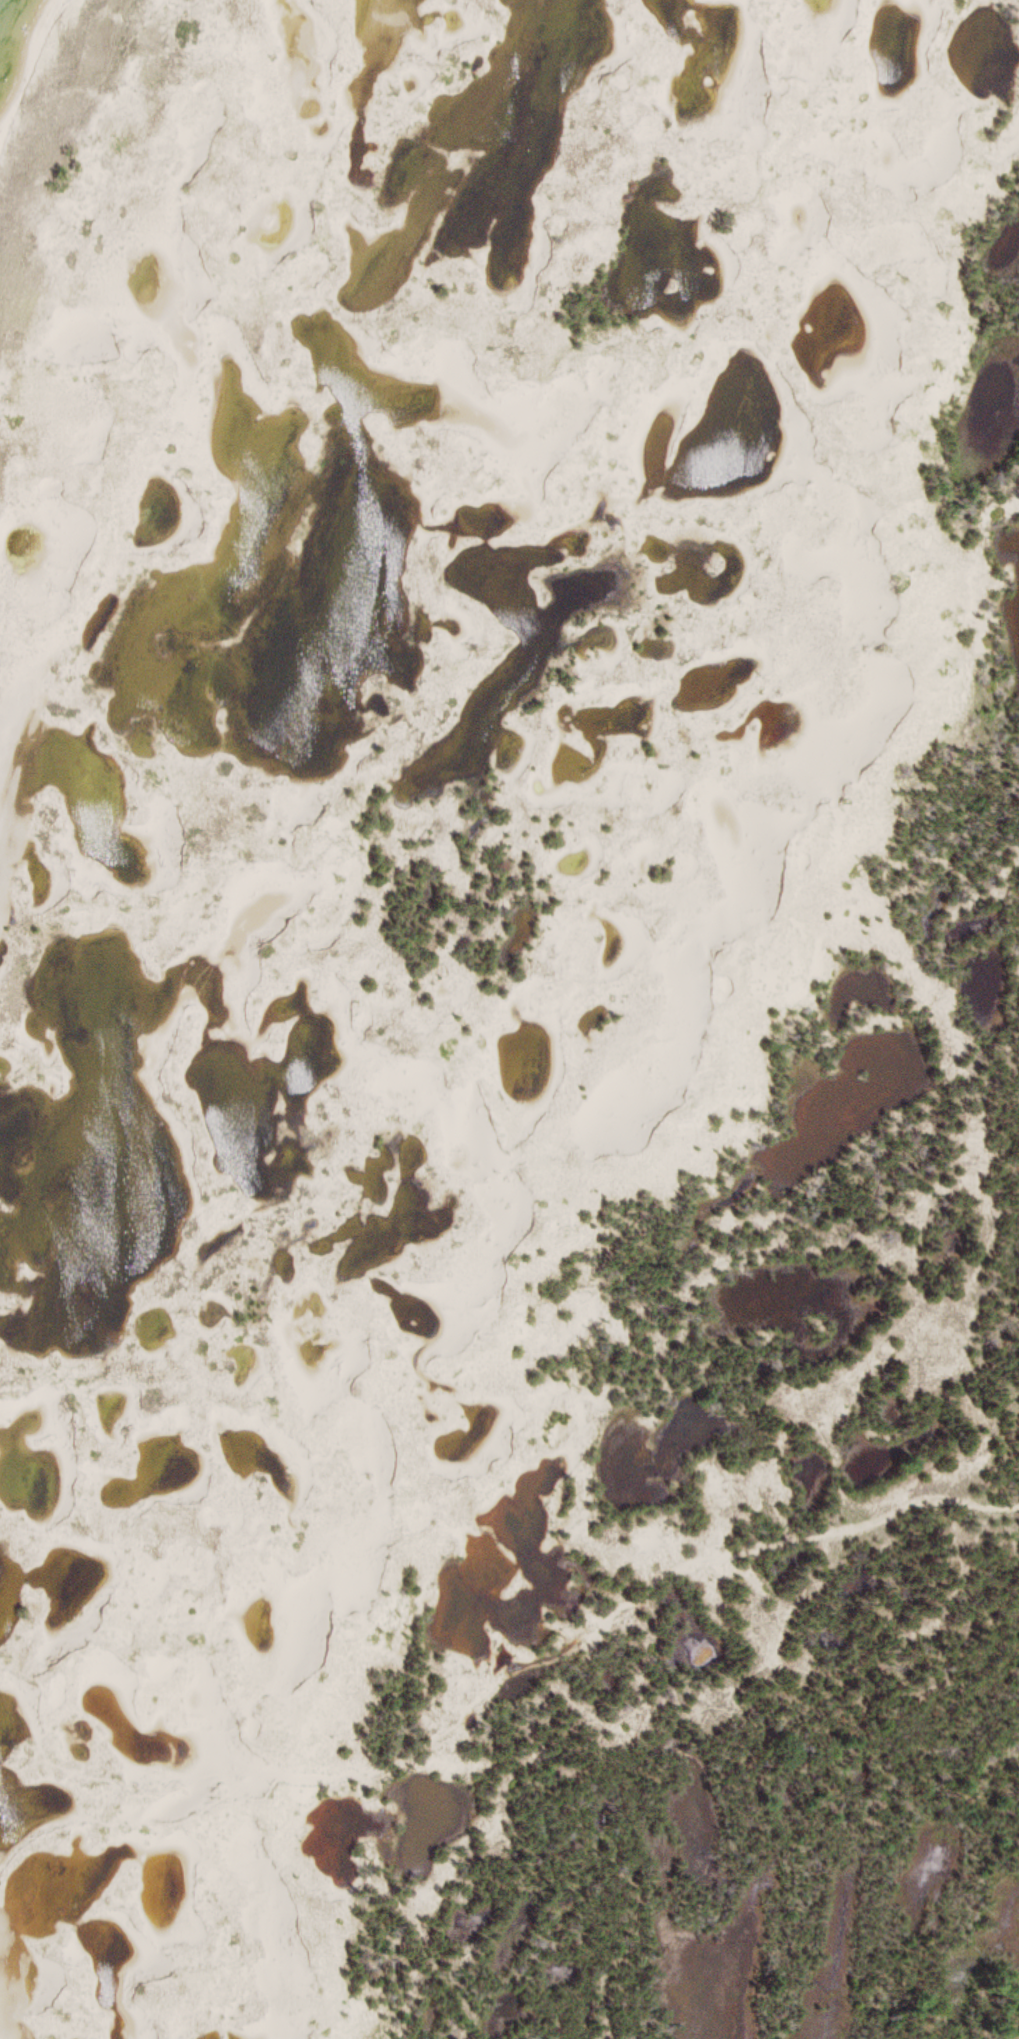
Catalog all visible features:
park: (509, 1019)
road: (486, 1695)

